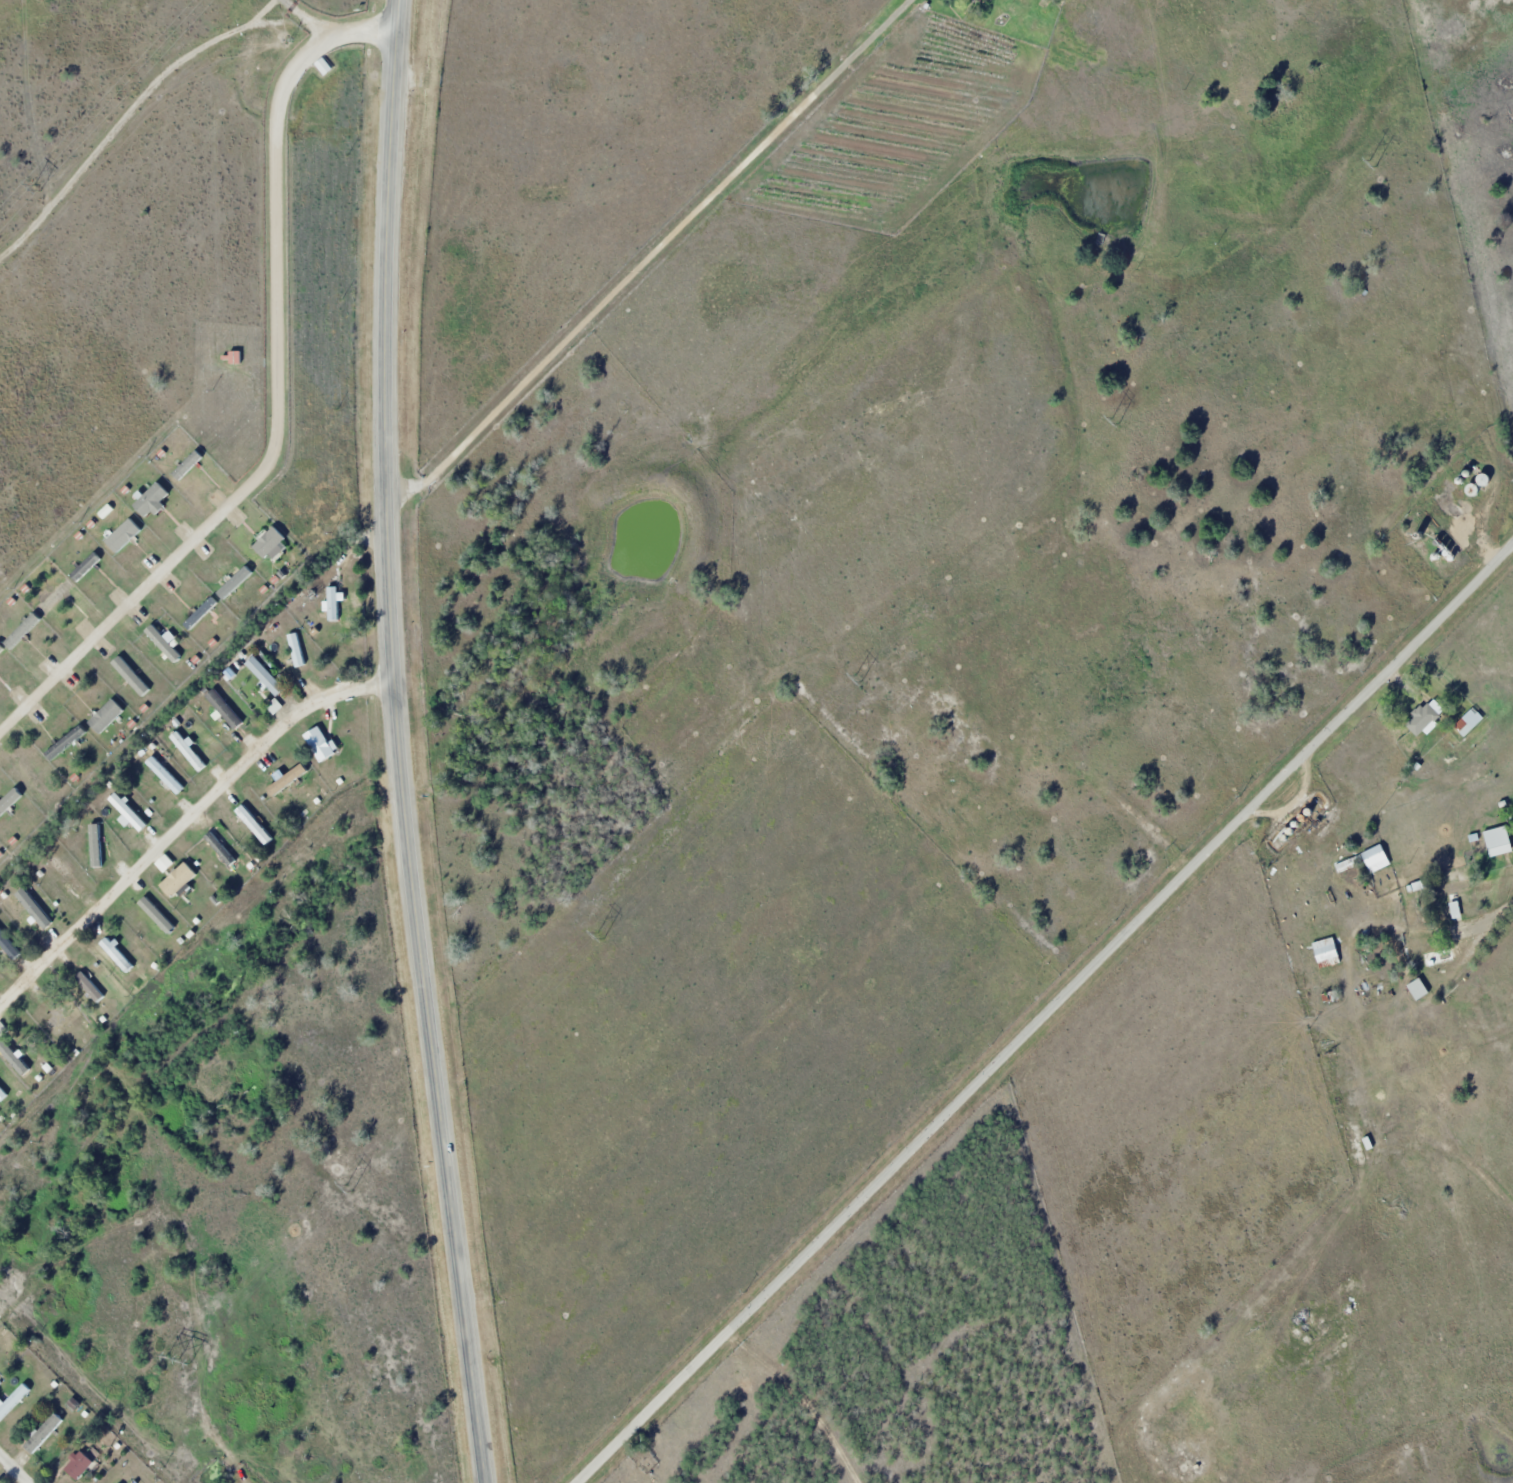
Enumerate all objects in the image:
road: (336, 28)
power tower: (1371, 163)
power tower: (36, 188)
road: (652, 255)
power tower: (1113, 420)
building: (1475, 490)
road: (1464, 516)
building: (333, 604)
building: (297, 650)
building: (267, 677)
power tower: (856, 677)
road: (1408, 684)
building: (235, 705)
building: (1426, 717)
building: (1470, 722)
road: (398, 743)
building: (321, 744)
building: (190, 752)
building: (270, 760)
building: (167, 775)
building: (291, 776)
building: (131, 812)
road: (186, 820)
building: (256, 825)
building: (1500, 841)
building: (93, 842)
building: (221, 848)
building: (1378, 858)
building: (167, 863)
building: (69, 879)
building: (181, 880)
building: (1460, 895)
building: (37, 912)
building: (159, 916)
power tower: (598, 936)
building: (9, 946)
building: (1328, 953)
building: (118, 956)
building: (1442, 957)
building: (90, 986)
building: (1421, 989)
road: (1045, 1015)
building: (64, 1019)
road: (1356, 1025)
building: (15, 1059)
building: (3, 1093)
power tower: (348, 1186)
power tower: (178, 1357)
building: (14, 1401)
building: (45, 1433)
building: (83, 1463)
road: (15, 1467)

